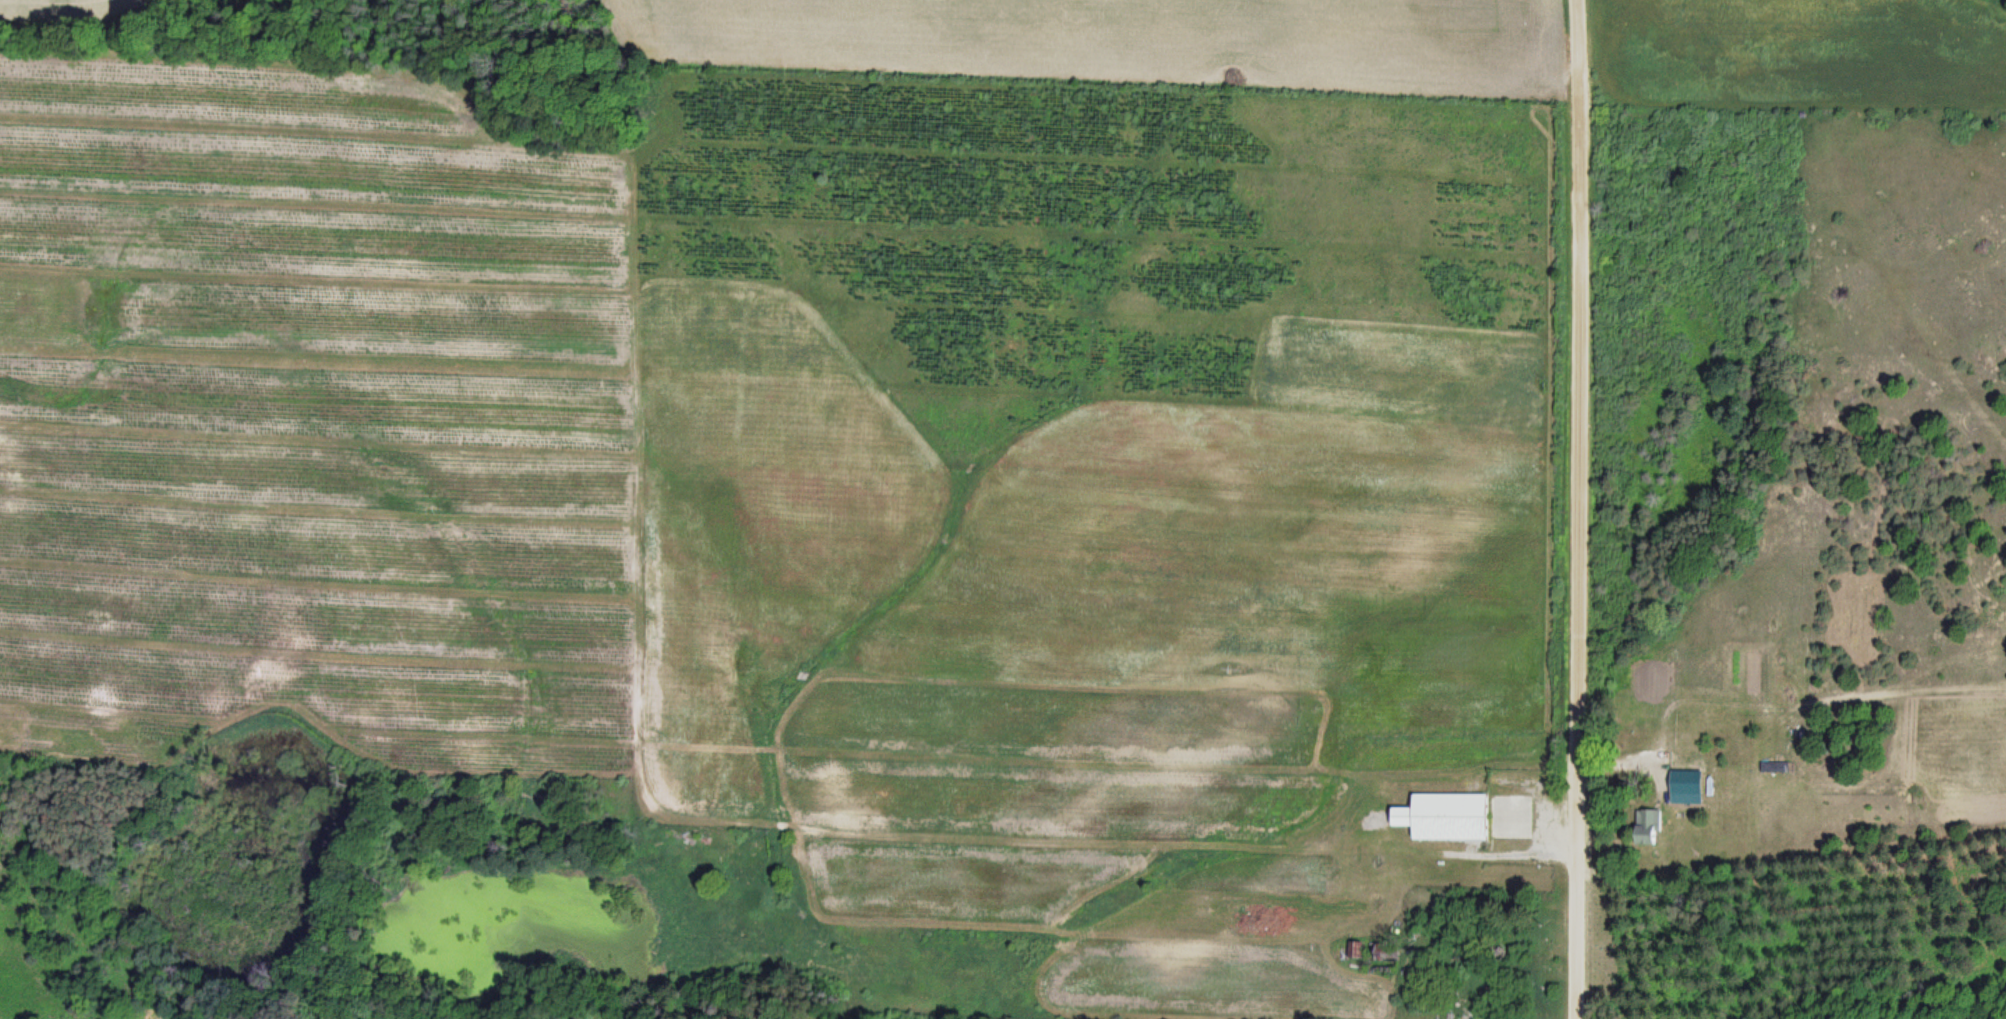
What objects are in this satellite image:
road: (1577, 509)
building: (1774, 768)
building: (1441, 817)
building: (1646, 828)

